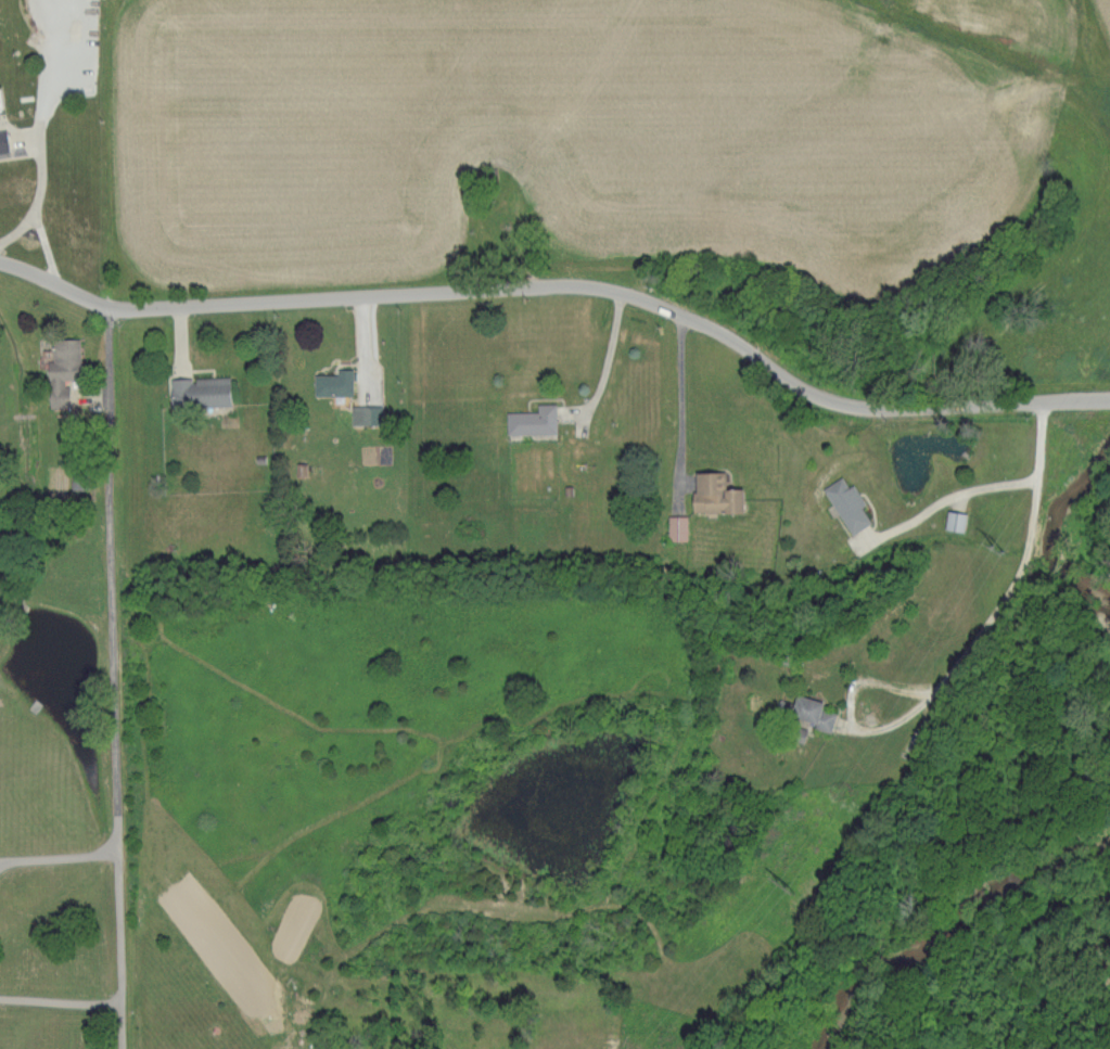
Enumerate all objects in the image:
road: (35, 141)
building: (4, 142)
road: (563, 283)
road: (180, 337)
building: (67, 360)
road: (610, 363)
building: (335, 383)
road: (276, 385)
building: (202, 391)
road: (679, 404)
building: (366, 414)
building: (534, 421)
building: (79, 482)
road: (959, 492)
building: (720, 495)
building: (849, 504)
building: (957, 521)
building: (680, 527)
power tower: (1007, 542)
road: (1004, 603)
road: (113, 677)
building: (817, 713)
road: (55, 853)
power tower: (791, 885)
road: (60, 995)

